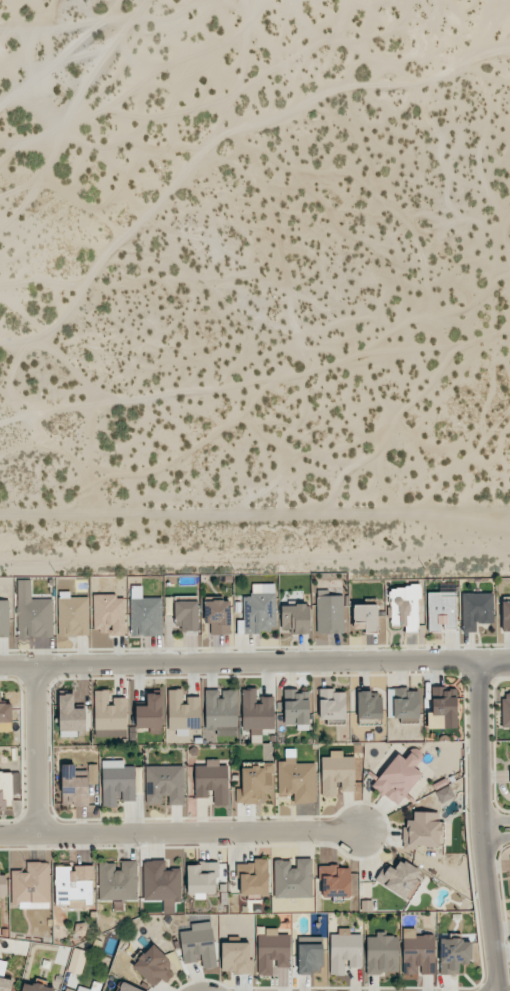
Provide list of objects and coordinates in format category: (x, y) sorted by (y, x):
building: (404, 607)
building: (441, 610)
building: (476, 610)
building: (258, 611)
building: (32, 612)
building: (145, 613)
building: (329, 613)
building: (72, 614)
building: (109, 614)
building: (187, 614)
building: (218, 616)
building: (505, 616)
building: (4, 618)
building: (365, 618)
building: (295, 619)
road: (254, 663)
building: (404, 702)
building: (331, 704)
building: (368, 705)
building: (296, 708)
building: (442, 708)
building: (505, 709)
building: (183, 711)
building: (5, 712)
building: (221, 712)
building: (149, 713)
building: (256, 714)
building: (109, 715)
building: (70, 716)
road: (36, 750)
building: (337, 773)
building: (296, 778)
building: (397, 778)
building: (212, 781)
building: (117, 782)
building: (165, 784)
building: (255, 784)
building: (74, 785)
building: (5, 788)
road: (494, 819)
road: (479, 825)
building: (423, 830)
road: (179, 833)
road: (495, 837)
building: (253, 877)
building: (202, 878)
building: (293, 878)
building: (399, 878)
building: (117, 880)
building: (335, 881)
building: (161, 882)
building: (31, 884)
building: (2, 885)
building: (74, 885)
building: (199, 944)
building: (272, 950)
building: (345, 951)
building: (381, 953)
building: (417, 953)
building: (454, 955)
building: (235, 957)
building: (309, 958)
building: (77, 961)
building: (154, 966)
building: (5, 984)
building: (35, 987)
building: (127, 987)
building: (80, 989)

